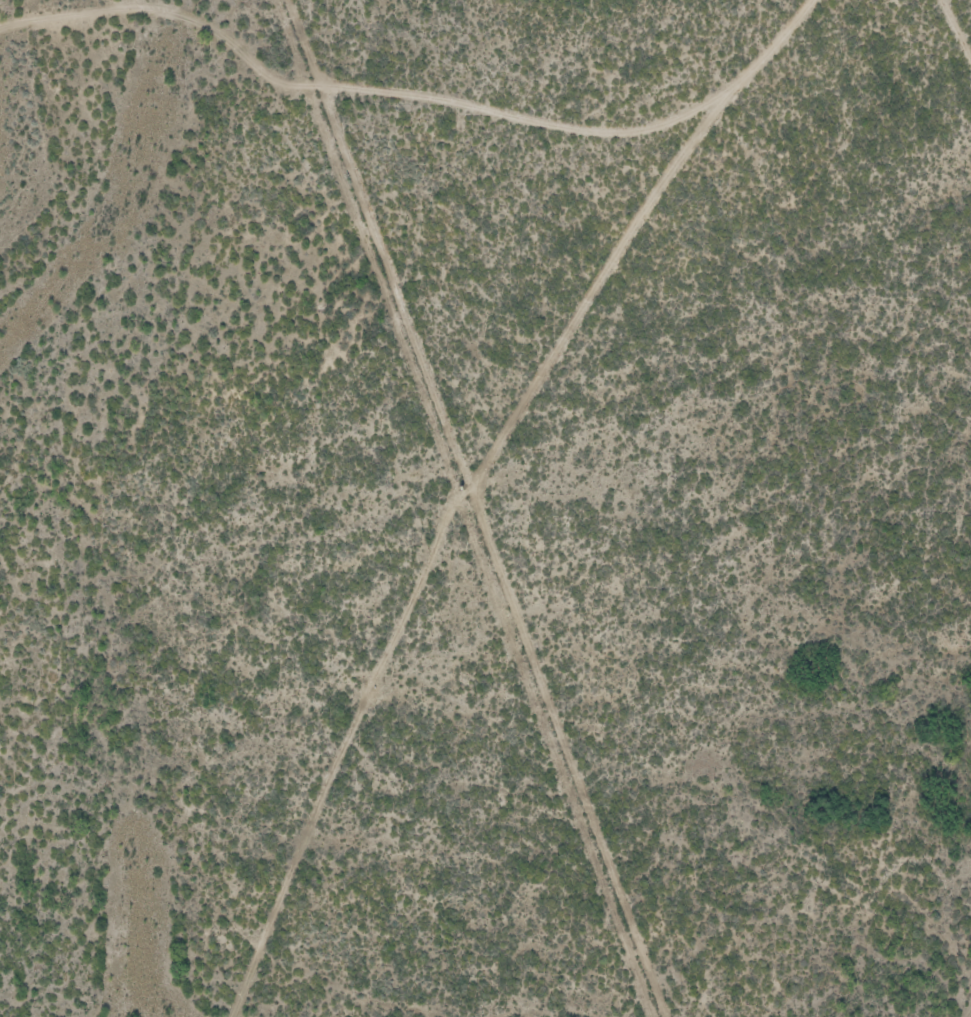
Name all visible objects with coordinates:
road: (478, 479)

